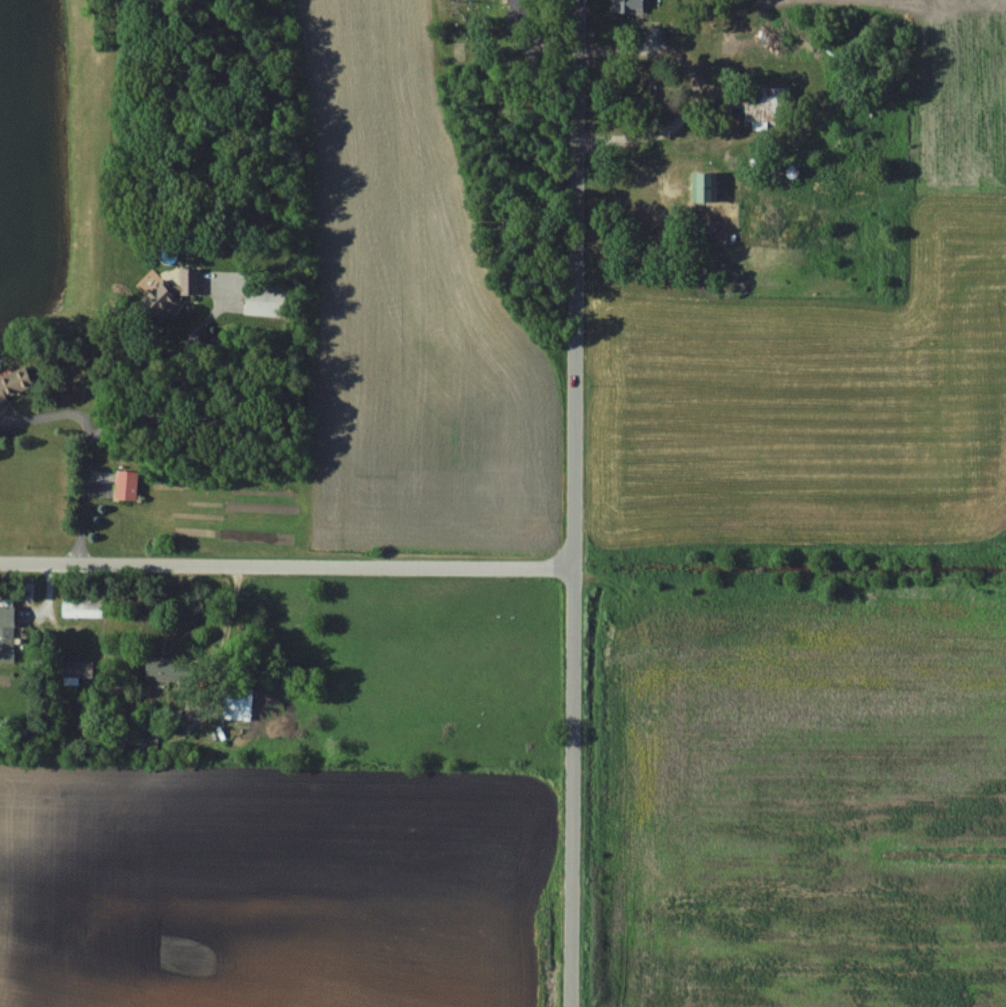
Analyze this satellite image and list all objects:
building: (629, 7)
road: (687, 90)
building: (766, 104)
building: (705, 188)
building: (175, 291)
building: (266, 301)
building: (15, 382)
road: (123, 418)
building: (127, 485)
road: (573, 503)
road: (286, 565)
building: (82, 607)
building: (7, 629)
building: (77, 668)
building: (166, 669)
building: (238, 701)
building: (146, 736)

